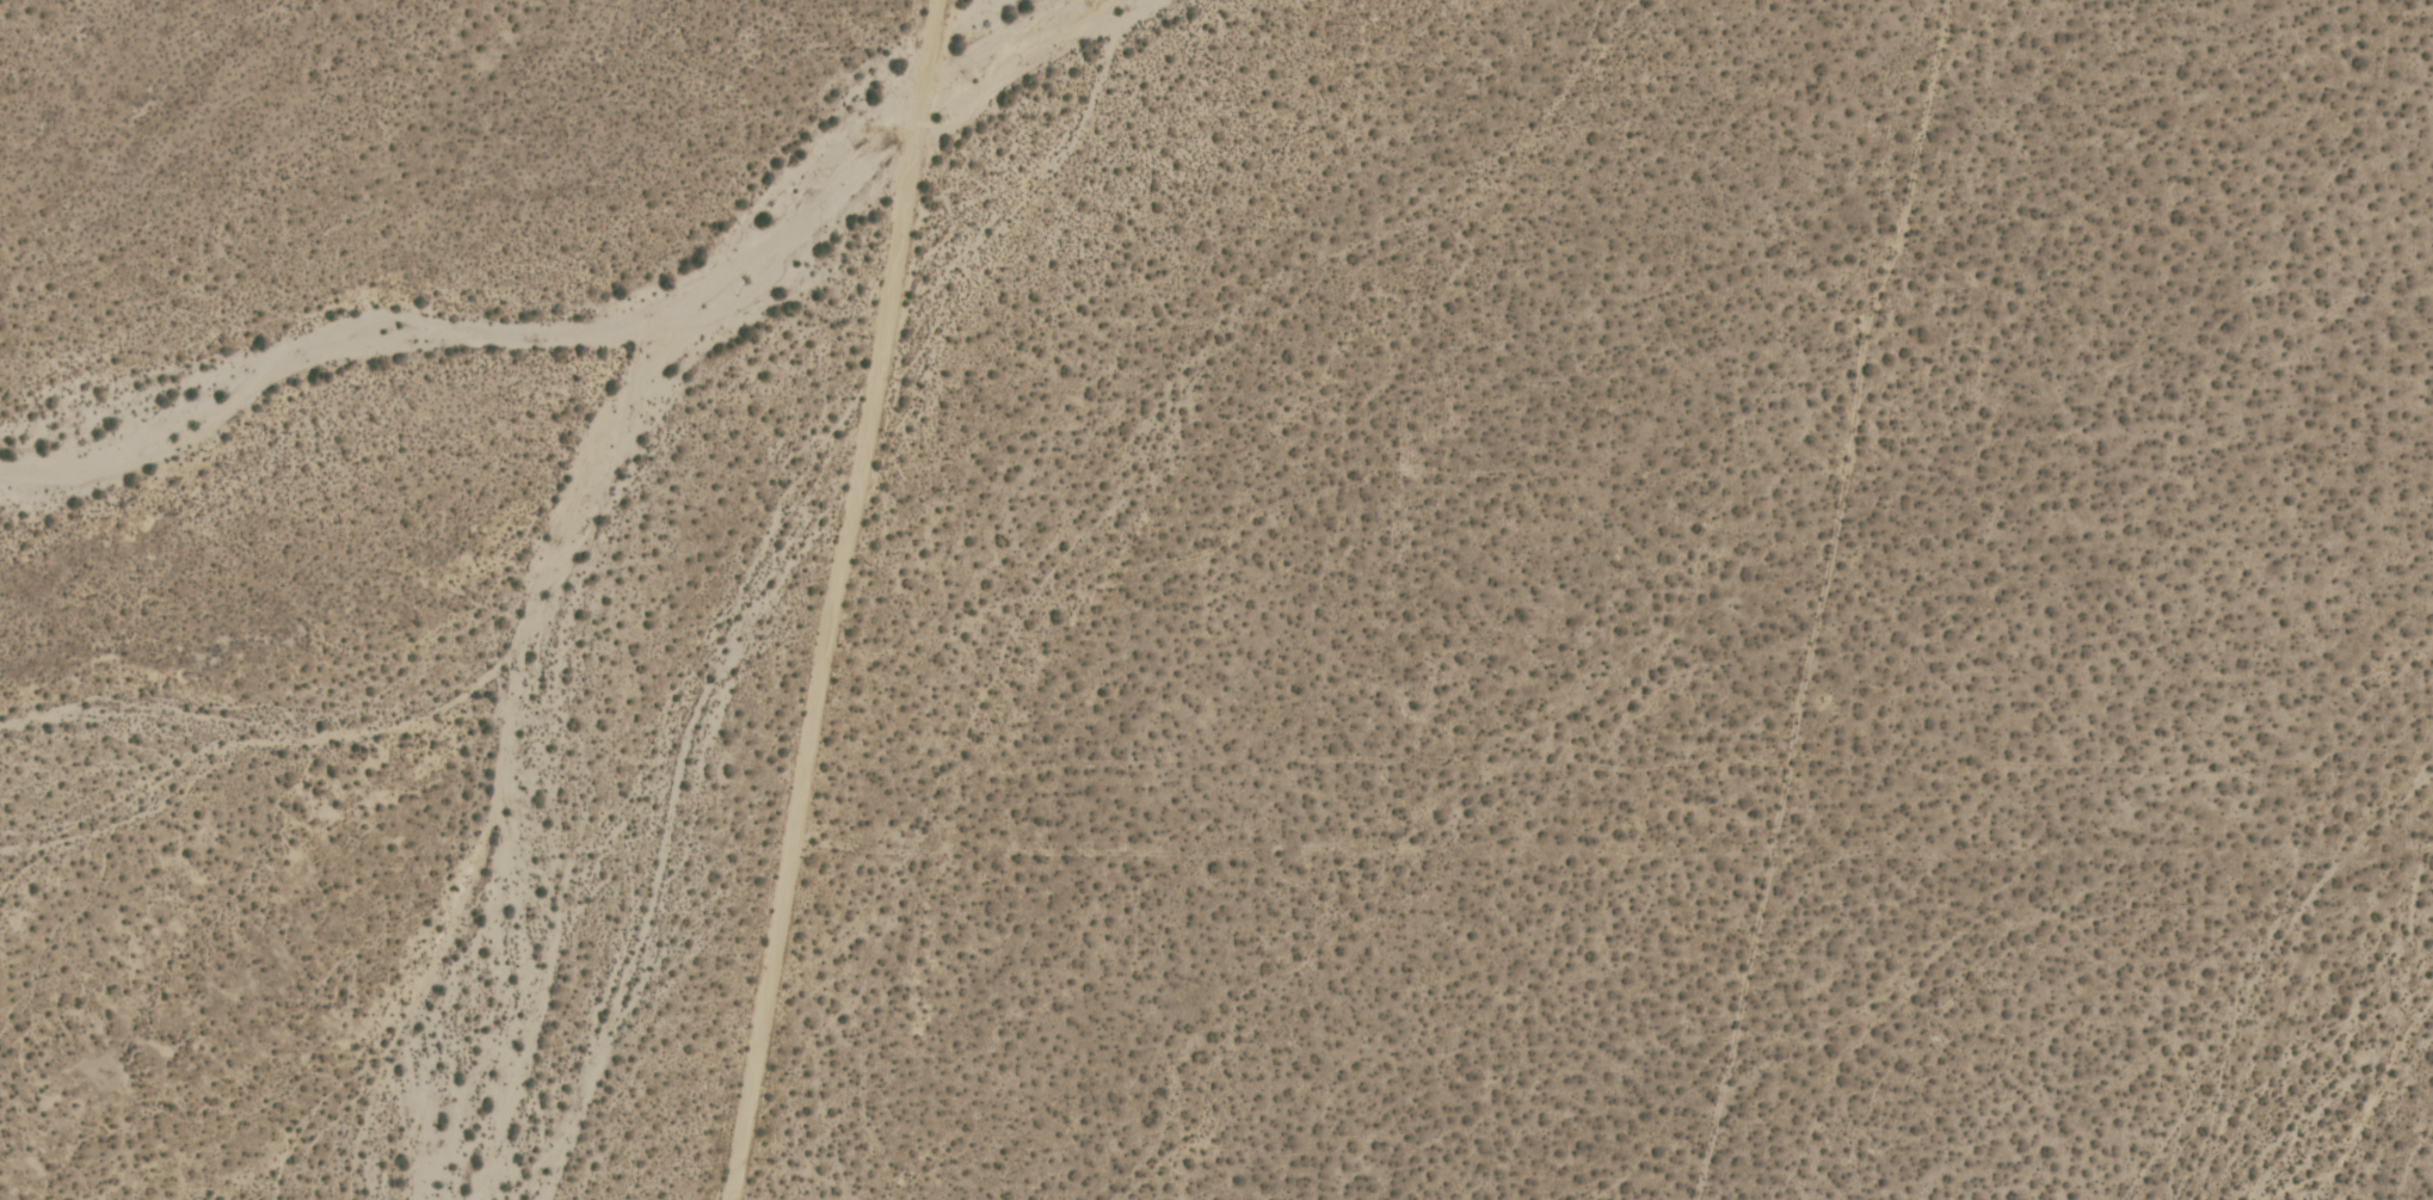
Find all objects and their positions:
road: (908, 141)

